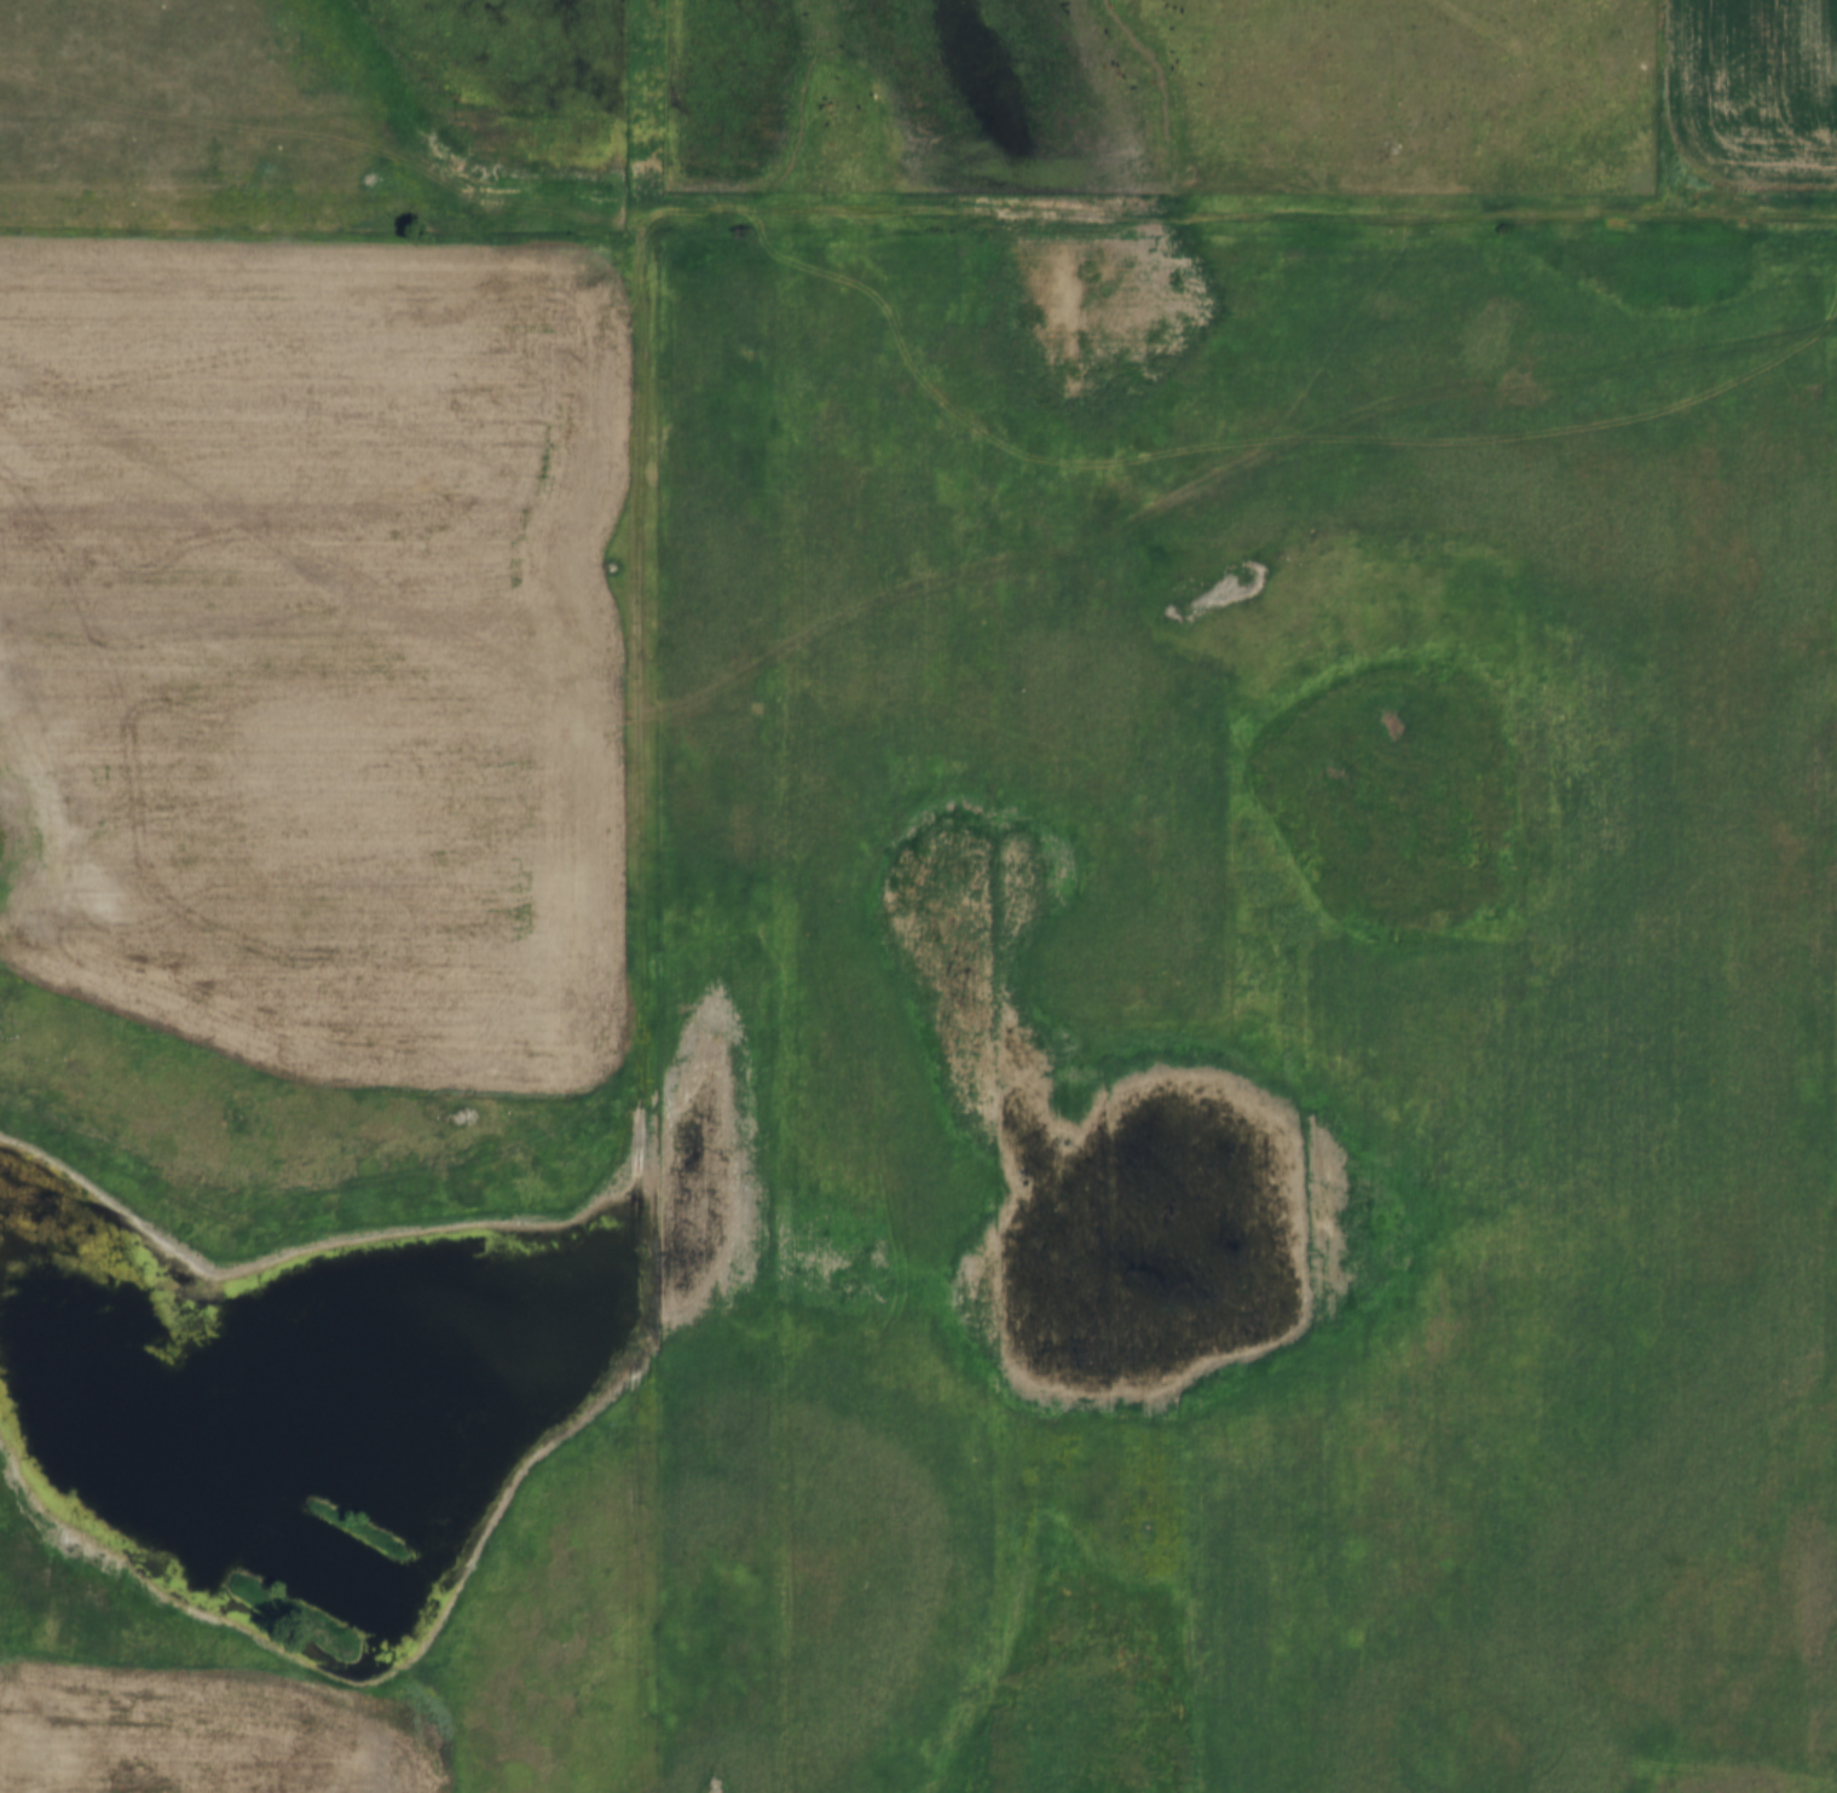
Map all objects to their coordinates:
road: (649, 102)
road: (1242, 206)

